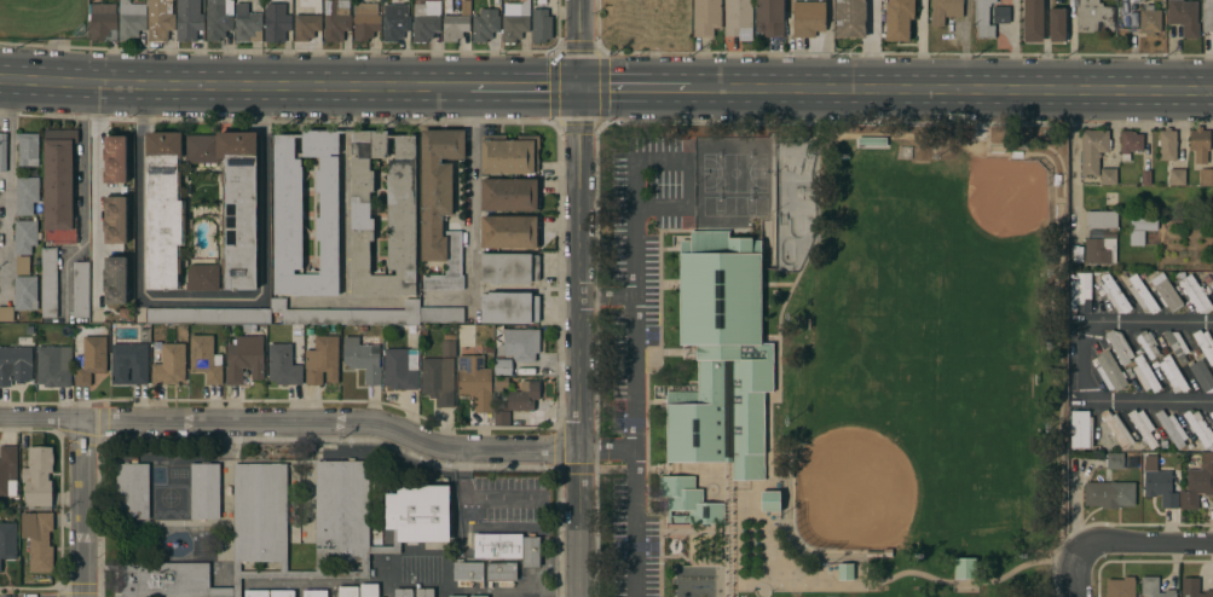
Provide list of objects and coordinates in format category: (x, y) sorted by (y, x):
building: (541, 2)
building: (945, 11)
building: (1000, 15)
building: (1094, 16)
building: (1183, 16)
building: (1208, 16)
building: (705, 17)
building: (738, 17)
building: (769, 17)
building: (809, 17)
building: (850, 18)
building: (983, 18)
building: (131, 19)
building: (160, 19)
building: (187, 19)
building: (218, 19)
building: (336, 19)
building: (426, 19)
building: (899, 19)
building: (395, 21)
building: (1033, 21)
building: (1150, 21)
building: (103, 22)
building: (276, 22)
building: (365, 22)
building: (515, 22)
building: (456, 23)
building: (247, 24)
building: (1057, 24)
building: (307, 25)
building: (485, 25)
building: (541, 25)
road: (870, 45)
road: (1015, 45)
road: (233, 85)
road: (526, 86)
traffic signals: (584, 87)
road: (649, 88)
road: (964, 89)
road: (828, 132)
building: (872, 141)
building: (1130, 144)
building: (1200, 144)
building: (1167, 145)
building: (28, 149)
building: (1092, 150)
building: (902, 151)
building: (2, 152)
building: (509, 155)
building: (114, 158)
road: (83, 167)
road: (1070, 170)
building: (1108, 176)
building: (1177, 176)
park: (730, 178)
building: (1145, 178)
building: (1206, 178)
road: (7, 186)
building: (58, 186)
park: (1004, 192)
road: (345, 193)
building: (25, 195)
building: (510, 195)
building: (233, 198)
road: (470, 198)
park: (793, 202)
building: (288, 204)
building: (439, 207)
building: (164, 209)
building: (115, 220)
building: (1139, 230)
building: (510, 232)
building: (24, 237)
building: (1143, 237)
building: (1101, 238)
building: (22, 266)
building: (509, 268)
building: (203, 278)
building: (115, 280)
building: (48, 283)
building: (1212, 283)
building: (81, 290)
building: (1080, 292)
building: (1166, 292)
building: (25, 294)
building: (1114, 294)
building: (1140, 294)
building: (1195, 294)
road: (585, 298)
road: (200, 300)
building: (509, 307)
road: (631, 309)
building: (123, 313)
building: (6, 314)
building: (305, 315)
road: (1149, 323)
building: (1145, 343)
building: (520, 344)
parking lot: (636, 344)
building: (1205, 344)
building: (1119, 346)
building: (1177, 346)
building: (449, 349)
building: (489, 350)
building: (721, 355)
building: (206, 358)
building: (89, 359)
building: (244, 359)
building: (363, 359)
park: (828, 359)
building: (322, 360)
building: (129, 364)
building: (285, 364)
building: (15, 365)
building: (169, 365)
building: (54, 366)
building: (503, 366)
building: (1212, 367)
building: (400, 369)
building: (526, 372)
building: (1110, 372)
building: (1128, 372)
building: (1144, 373)
building: (1172, 373)
building: (1202, 376)
building: (438, 379)
building: (475, 382)
building: (502, 383)
building: (522, 396)
road: (1116, 401)
building: (1211, 416)
building: (501, 418)
road: (296, 423)
building: (1143, 427)
building: (1171, 428)
building: (1081, 429)
building: (1116, 429)
building: (1200, 429)
building: (1160, 433)
building: (1114, 460)
building: (8, 470)
building: (37, 479)
building: (1159, 483)
building: (1197, 483)
building: (132, 489)
park: (853, 489)
building: (206, 491)
building: (1109, 494)
road: (480, 495)
building: (770, 500)
building: (688, 503)
road: (81, 508)
building: (417, 511)
road: (634, 524)
building: (39, 539)
building: (7, 541)
road: (1143, 544)
building: (508, 547)
building: (878, 553)
building: (965, 568)
road: (1074, 570)
building: (845, 572)
building: (467, 573)
building: (501, 574)
building: (1120, 587)
building: (1154, 587)
building: (1194, 587)
building: (369, 590)
building: (348, 591)
building: (423, 591)
building: (403, 592)
building: (270, 593)
building: (314, 593)
building: (457, 596)
building: (478, 596)

